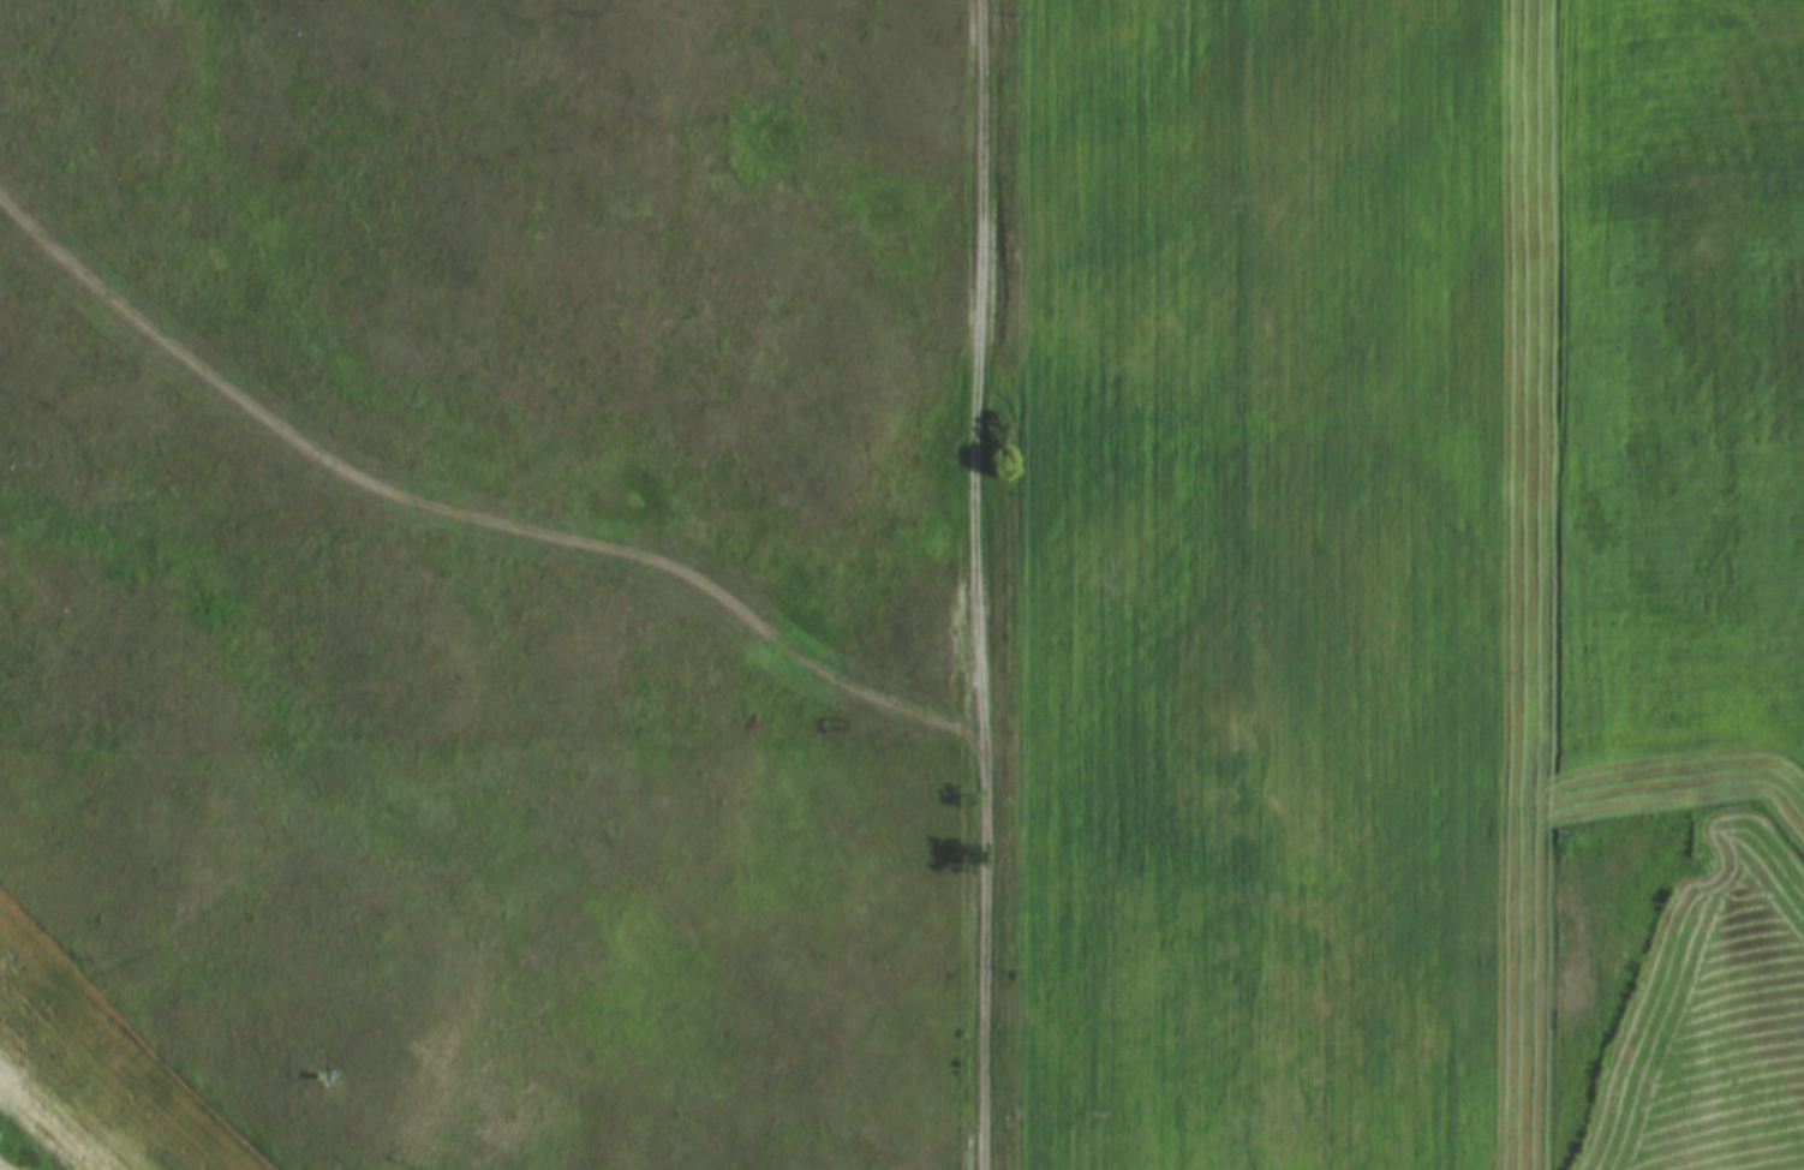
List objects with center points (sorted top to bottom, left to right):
road: (462, 513)
road: (966, 585)

